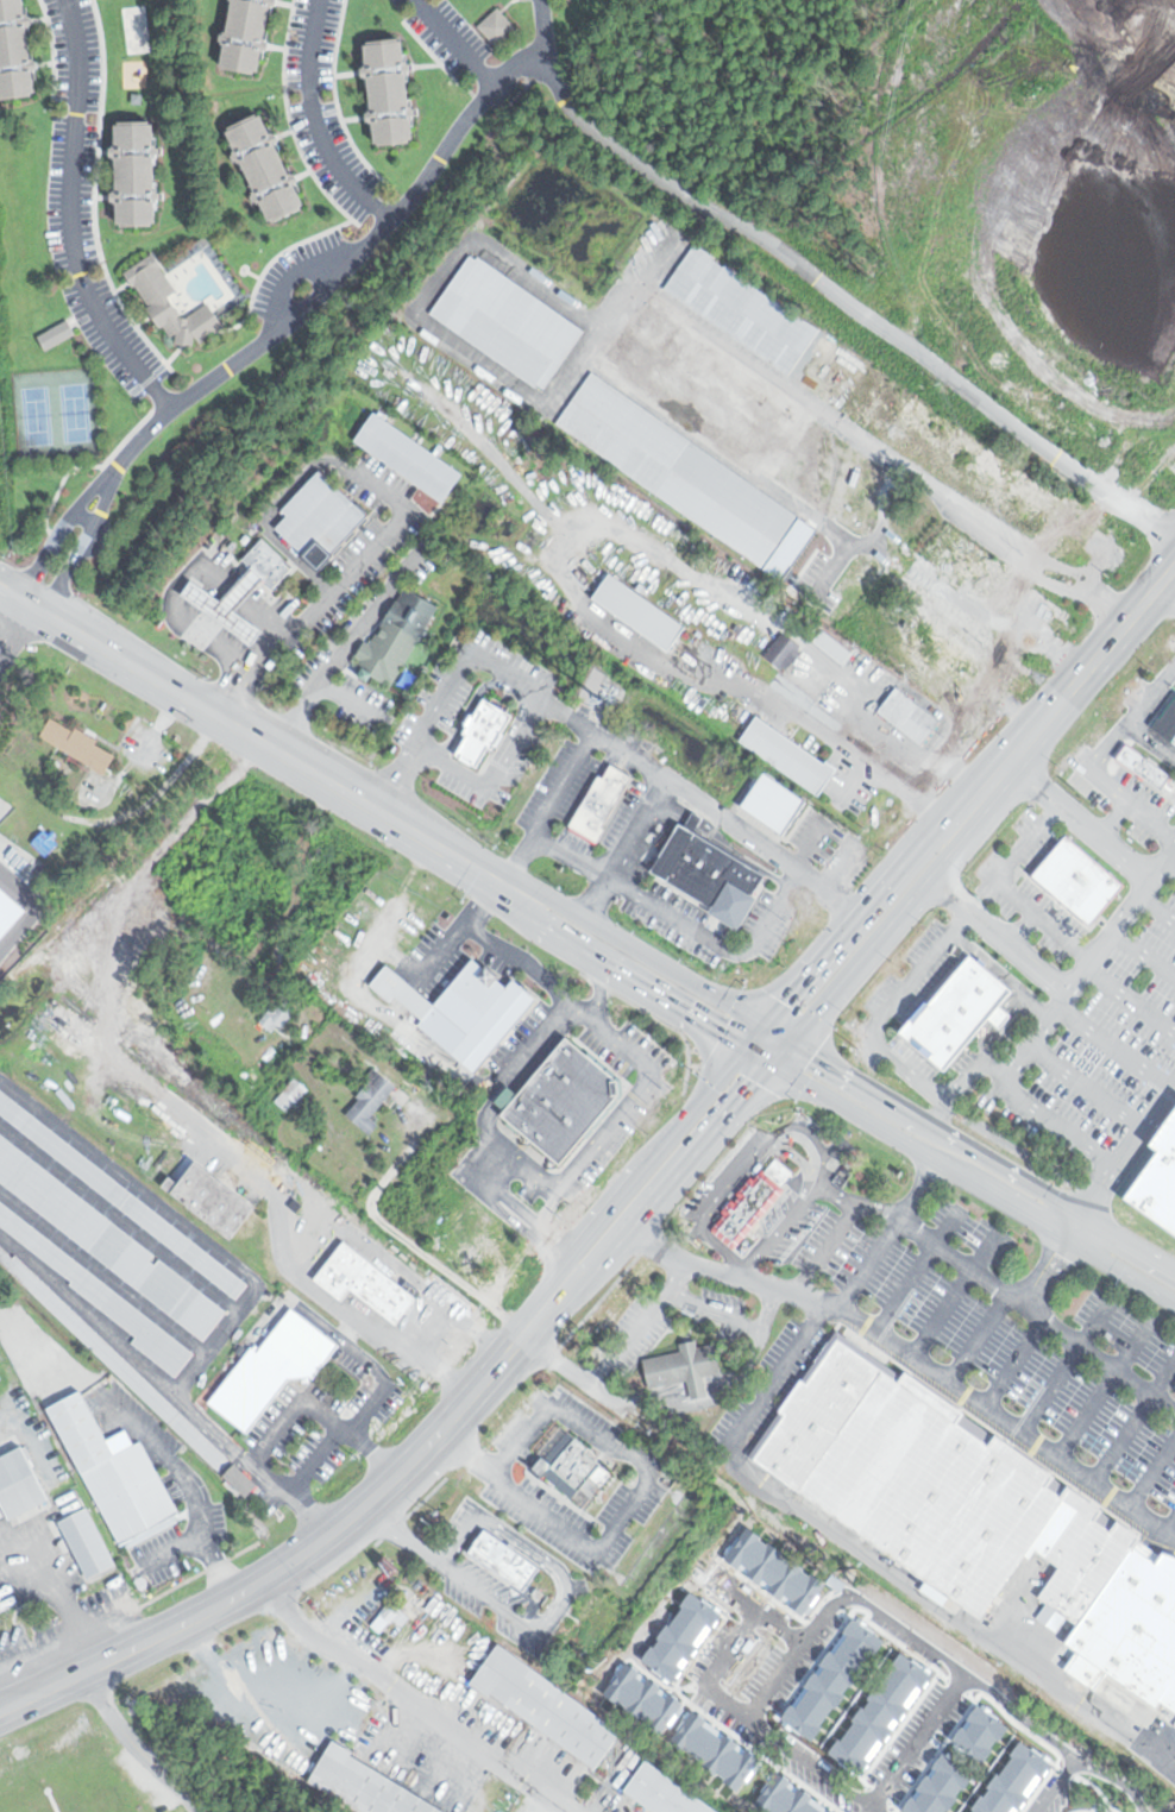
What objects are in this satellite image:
building: (495, 25)
road: (541, 25)
building: (243, 34)
road: (457, 42)
building: (13, 51)
building: (1158, 64)
road: (520, 65)
building: (385, 89)
road: (315, 122)
road: (611, 144)
building: (263, 166)
building: (131, 172)
road: (70, 216)
building: (1079, 264)
road: (296, 269)
building: (155, 297)
building: (1066, 301)
building: (739, 308)
building: (507, 321)
building: (54, 334)
road: (260, 342)
building: (716, 370)
road: (944, 372)
park: (55, 413)
building: (1168, 455)
building: (410, 457)
parking lot: (389, 473)
road: (515, 477)
building: (683, 477)
building: (836, 478)
parking lot: (359, 487)
road: (383, 499)
road: (438, 509)
road: (375, 511)
road: (268, 516)
building: (323, 518)
building: (1081, 529)
parking lot: (409, 531)
parking lot: (364, 558)
building: (264, 561)
road: (566, 566)
building: (980, 570)
road: (211, 574)
parking lot: (249, 579)
road: (337, 589)
road: (1167, 590)
road: (233, 593)
road: (17, 597)
building: (225, 603)
building: (642, 612)
road: (260, 615)
parking lot: (327, 618)
road: (187, 619)
road: (70, 628)
road: (17, 633)
building: (835, 647)
building: (785, 650)
building: (390, 653)
building: (937, 653)
parking lot: (517, 659)
road: (1091, 663)
road: (164, 684)
road: (321, 686)
road: (510, 687)
road: (849, 694)
road: (1152, 694)
road: (442, 697)
parking lot: (358, 701)
parking lot: (435, 701)
building: (912, 716)
road: (567, 717)
building: (1163, 722)
road: (811, 725)
road: (238, 728)
building: (478, 729)
parking lot: (623, 735)
road: (1152, 738)
road: (517, 741)
building: (80, 745)
road: (960, 745)
parking lot: (887, 750)
building: (792, 756)
parking lot: (519, 766)
building: (1143, 766)
road: (453, 767)
road: (318, 774)
road: (398, 779)
road: (854, 784)
road: (1111, 784)
parking lot: (559, 785)
parking lot: (463, 788)
road: (980, 793)
road: (585, 797)
road: (699, 800)
building: (769, 803)
building: (603, 804)
parking lot: (764, 806)
road: (549, 810)
parking lot: (623, 813)
road: (673, 813)
road: (1113, 818)
road: (1077, 819)
building: (697, 822)
road: (696, 826)
building: (818, 835)
building: (45, 843)
parking lot: (579, 843)
road: (442, 850)
road: (746, 857)
parking lot: (848, 857)
road: (1168, 866)
road: (832, 870)
building: (715, 876)
building: (1075, 879)
road: (1006, 887)
road: (685, 895)
building: (7, 910)
road: (1156, 910)
road: (854, 918)
road: (683, 921)
parking lot: (716, 923)
road: (191, 925)
building: (157, 929)
road: (1023, 929)
road: (998, 933)
road: (878, 935)
road: (637, 948)
road: (1143, 954)
road: (1001, 971)
road: (621, 973)
road: (1130, 999)
traffic signals: (784, 1002)
building: (455, 1009)
building: (955, 1013)
building: (278, 1018)
road: (872, 1019)
road: (1045, 1023)
road: (1007, 1027)
traffic signals: (721, 1032)
road: (777, 1032)
road: (755, 1036)
road: (1114, 1047)
road: (780, 1050)
traffic signals: (812, 1053)
road: (759, 1055)
road: (974, 1069)
traffic signals: (754, 1081)
road: (145, 1082)
road: (860, 1082)
road: (1087, 1086)
building: (373, 1099)
building: (558, 1101)
road: (696, 1107)
road: (854, 1112)
road: (1129, 1149)
road: (1007, 1169)
building: (1157, 1177)
road: (666, 1183)
building: (120, 1195)
building: (207, 1197)
road: (1003, 1200)
building: (753, 1201)
road: (854, 1203)
road: (608, 1210)
road: (526, 1216)
road: (1075, 1226)
building: (107, 1240)
road: (1129, 1241)
road: (824, 1247)
road: (1121, 1270)
road: (915, 1271)
road: (1045, 1271)
road: (563, 1275)
building: (373, 1285)
building: (103, 1295)
road: (955, 1296)
road: (1037, 1314)
road: (432, 1330)
road: (976, 1340)
building: (108, 1355)
road: (912, 1363)
road: (1013, 1364)
building: (276, 1365)
building: (686, 1366)
road: (1063, 1366)
road: (1102, 1388)
road: (1131, 1422)
building: (576, 1466)
building: (115, 1473)
road: (1150, 1474)
building: (243, 1480)
building: (18, 1483)
road: (805, 1508)
road: (627, 1509)
building: (973, 1517)
road: (1167, 1521)
road: (406, 1533)
road: (459, 1539)
building: (84, 1542)
road: (312, 1548)
building: (505, 1560)
building: (746, 1575)
road: (555, 1610)
building: (785, 1610)
road: (876, 1615)
building: (392, 1616)
building: (836, 1636)
road: (733, 1644)
building: (871, 1650)
road: (967, 1653)
building: (899, 1674)
road: (413, 1698)
building: (929, 1699)
building: (542, 1707)
building: (718, 1709)
building: (967, 1720)
road: (136, 1743)
building: (761, 1749)
road: (1170, 1767)
building: (791, 1773)
building: (367, 1786)
building: (660, 1792)
building: (817, 1793)
building: (1125, 1810)

